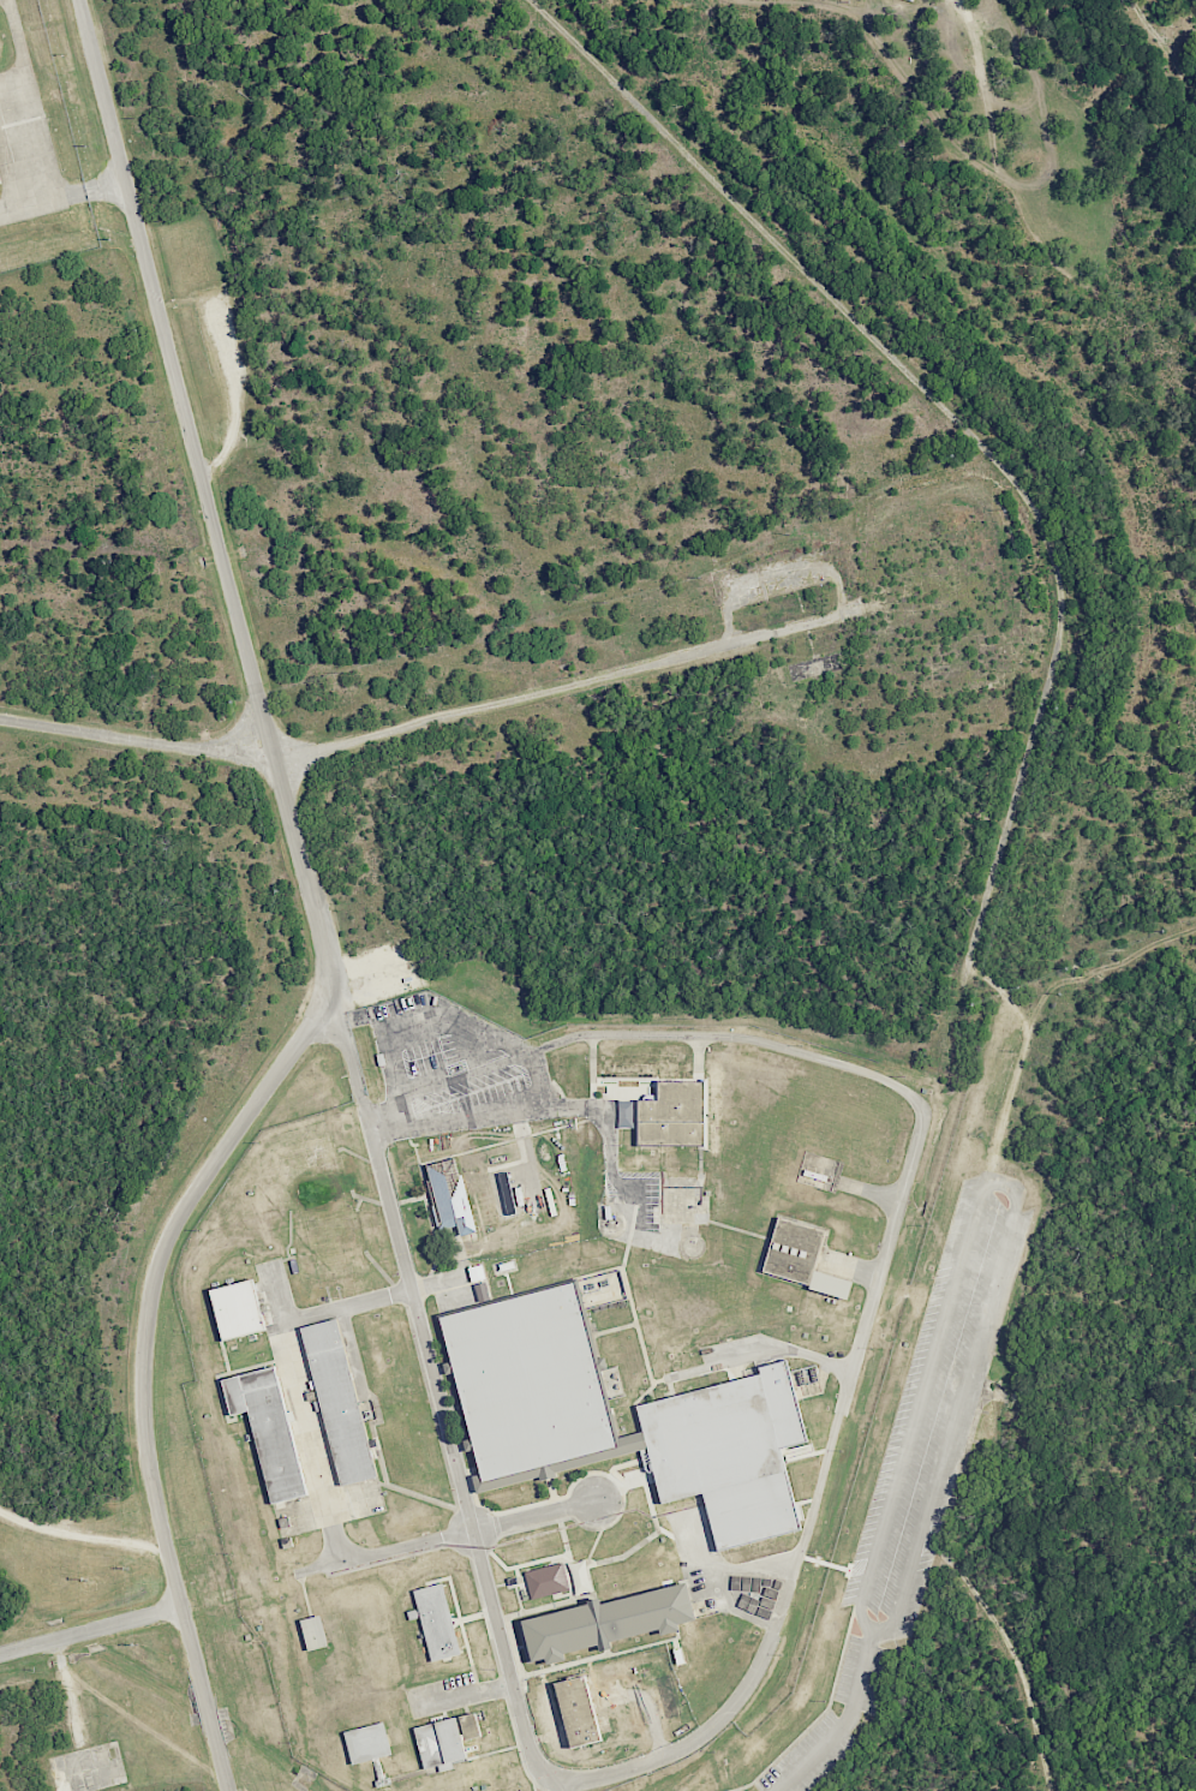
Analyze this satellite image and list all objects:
building: (911, 0)
road: (62, 201)
road: (1031, 507)
road: (432, 723)
road: (318, 913)
road: (419, 1029)
road: (454, 1079)
road: (489, 1105)
building: (671, 1114)
building: (300, 1172)
building: (452, 1194)
building: (325, 1250)
building: (799, 1256)
road: (405, 1259)
road: (381, 1300)
building: (237, 1308)
road: (868, 1309)
building: (526, 1380)
parking lot: (939, 1398)
building: (337, 1402)
building: (267, 1429)
road: (311, 1443)
building: (728, 1452)
road: (82, 1535)
road: (445, 1535)
building: (546, 1581)
building: (435, 1619)
building: (605, 1620)
road: (867, 1629)
road: (91, 1632)
building: (315, 1632)
road: (1011, 1648)
road: (507, 1666)
parking lot: (862, 1673)
building: (576, 1712)
road: (843, 1723)
building: (445, 1741)
building: (369, 1743)
parking lot: (808, 1756)

